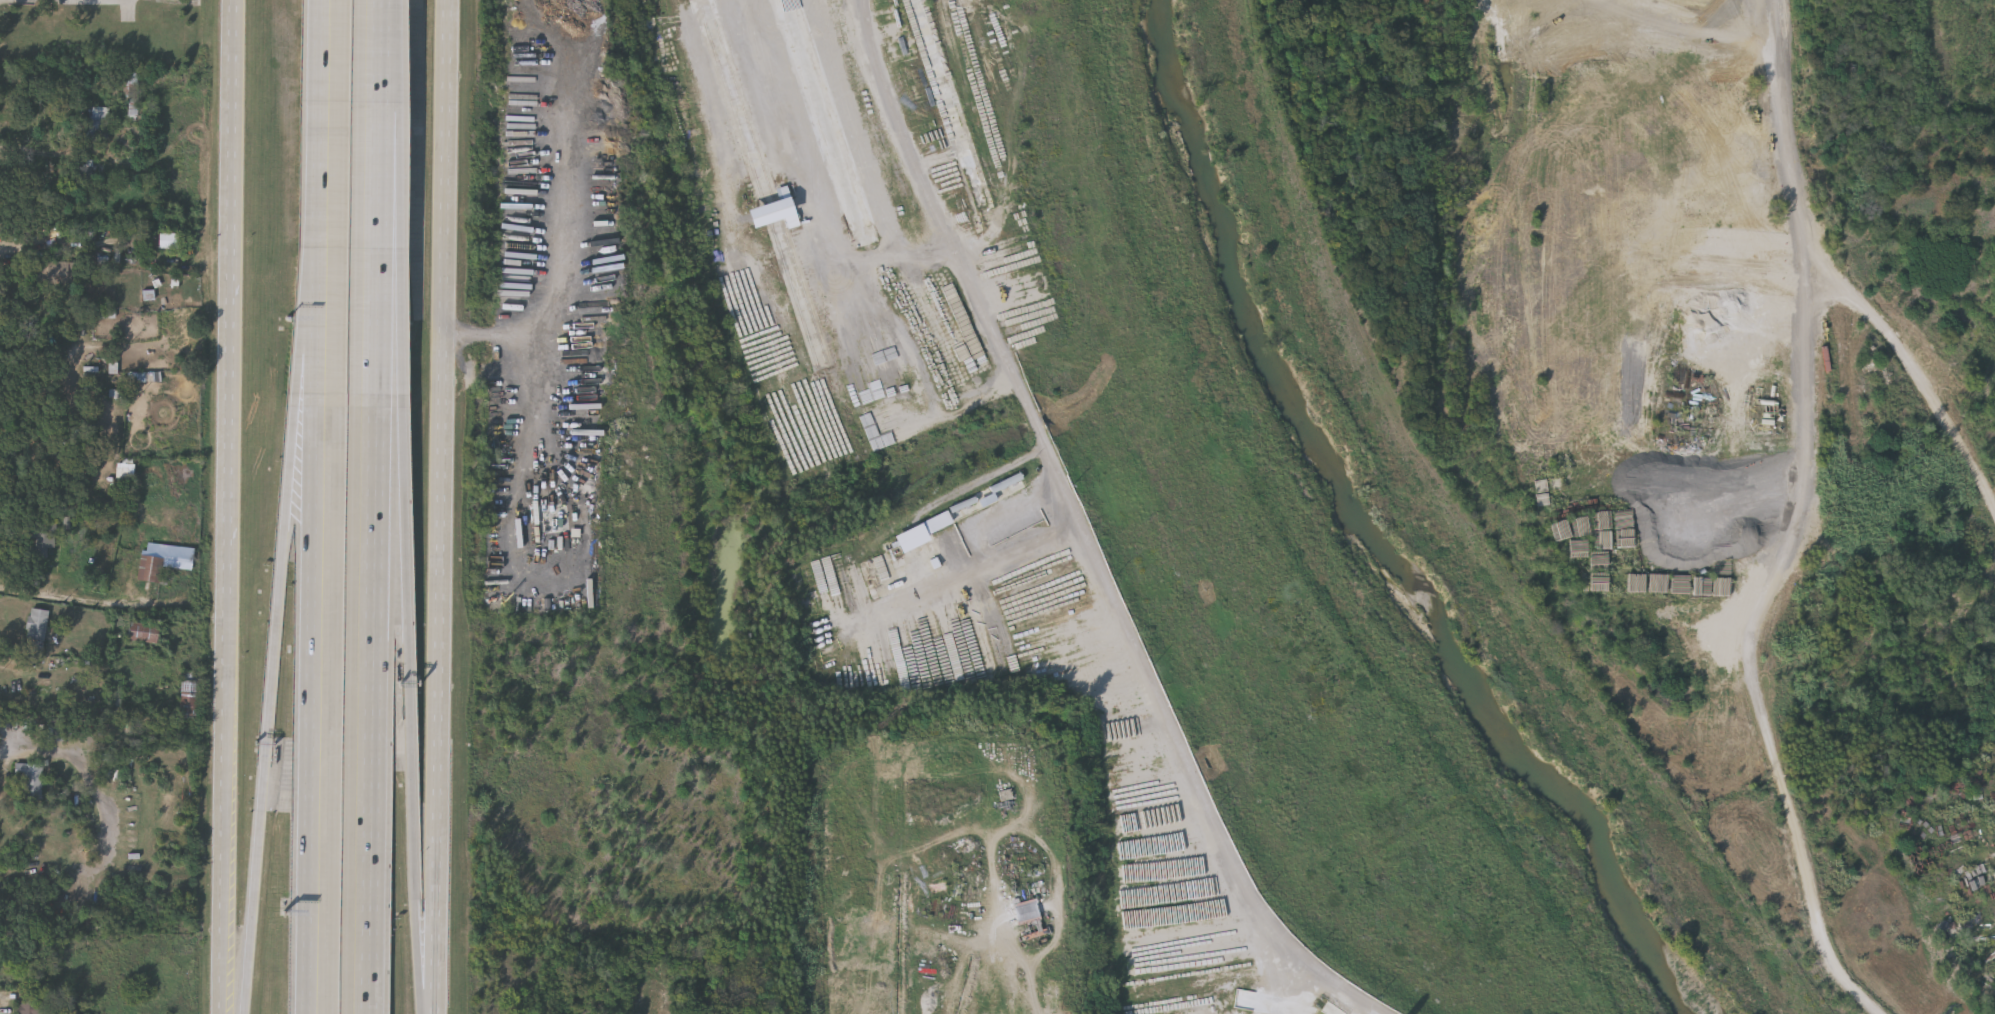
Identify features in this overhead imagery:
road: (384, 27)
building: (133, 96)
building: (95, 121)
road: (865, 125)
road: (329, 127)
road: (232, 133)
building: (131, 151)
building: (89, 169)
road: (828, 178)
building: (764, 191)
road: (403, 223)
road: (380, 224)
building: (168, 239)
road: (571, 284)
road: (312, 324)
road: (327, 324)
building: (105, 366)
road: (545, 393)
road: (229, 433)
building: (983, 497)
road: (441, 507)
road: (1084, 534)
road: (1794, 537)
building: (42, 541)
road: (982, 549)
building: (161, 560)
road: (81, 604)
building: (36, 632)
building: (143, 632)
building: (189, 693)
road: (271, 704)
road: (323, 704)
road: (372, 704)
road: (409, 704)
building: (60, 731)
building: (31, 779)
road: (225, 807)
road: (996, 959)
building: (32, 1008)
building: (632, 1011)

